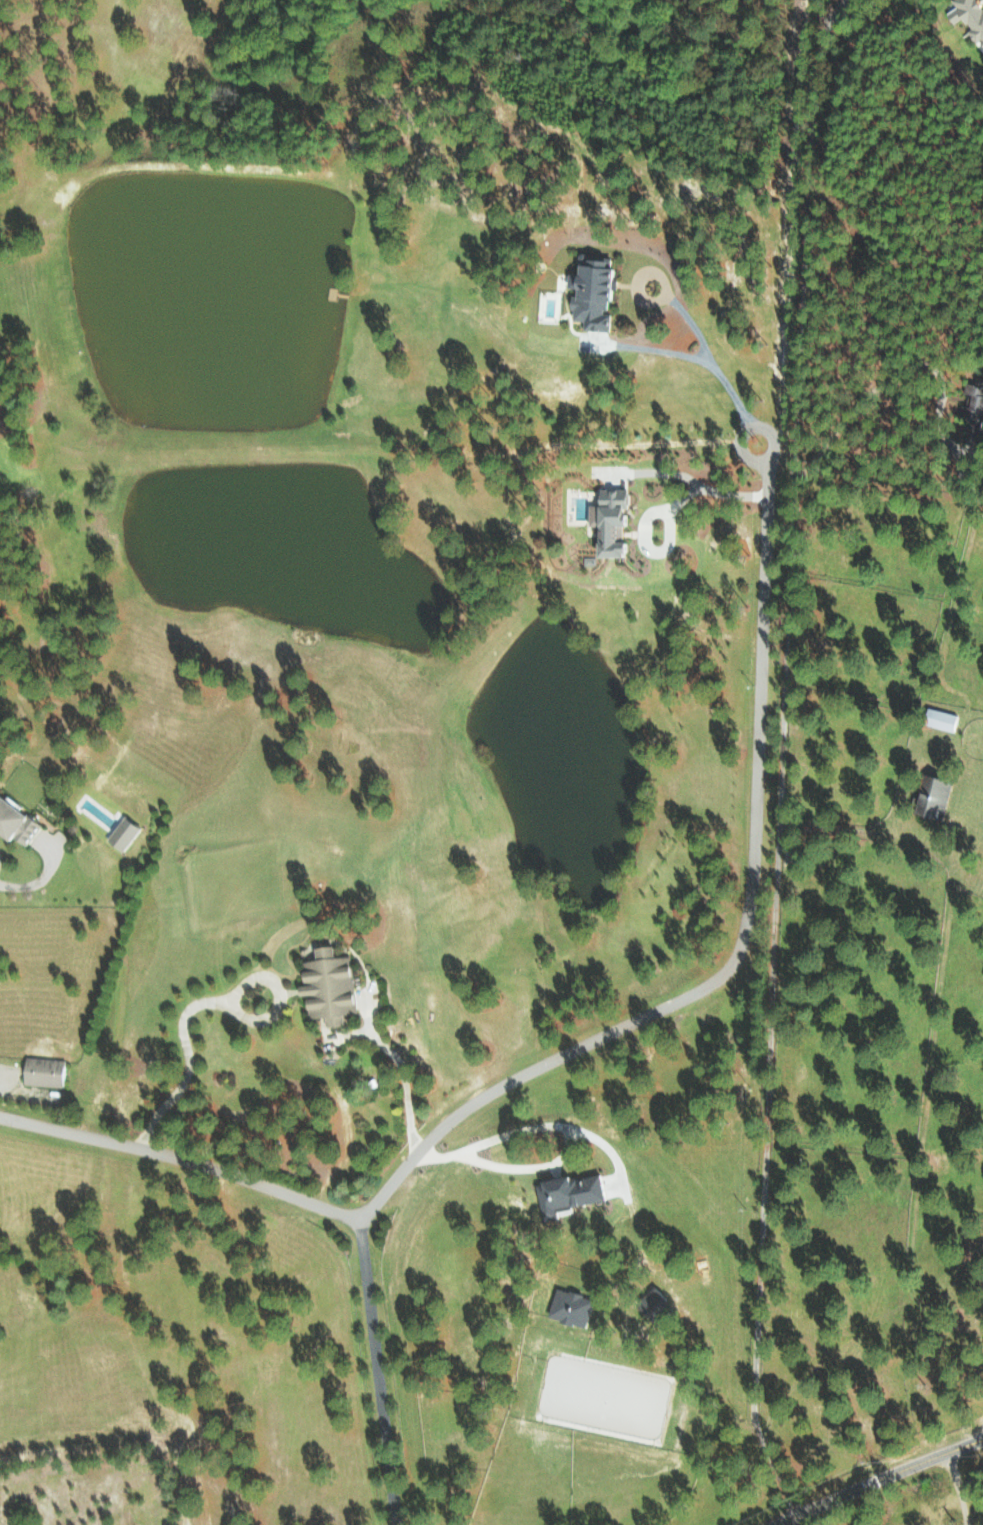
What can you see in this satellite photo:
building: (968, 18)
building: (588, 293)
building: (970, 406)
building: (603, 521)
dam: (517, 683)
building: (936, 719)
dam: (493, 722)
building: (929, 798)
building: (14, 825)
building: (119, 834)
building: (325, 986)
road: (620, 1028)
building: (42, 1071)
road: (163, 1155)
building: (566, 1194)
road: (340, 1214)
building: (648, 1302)
building: (566, 1307)
road: (877, 1478)

